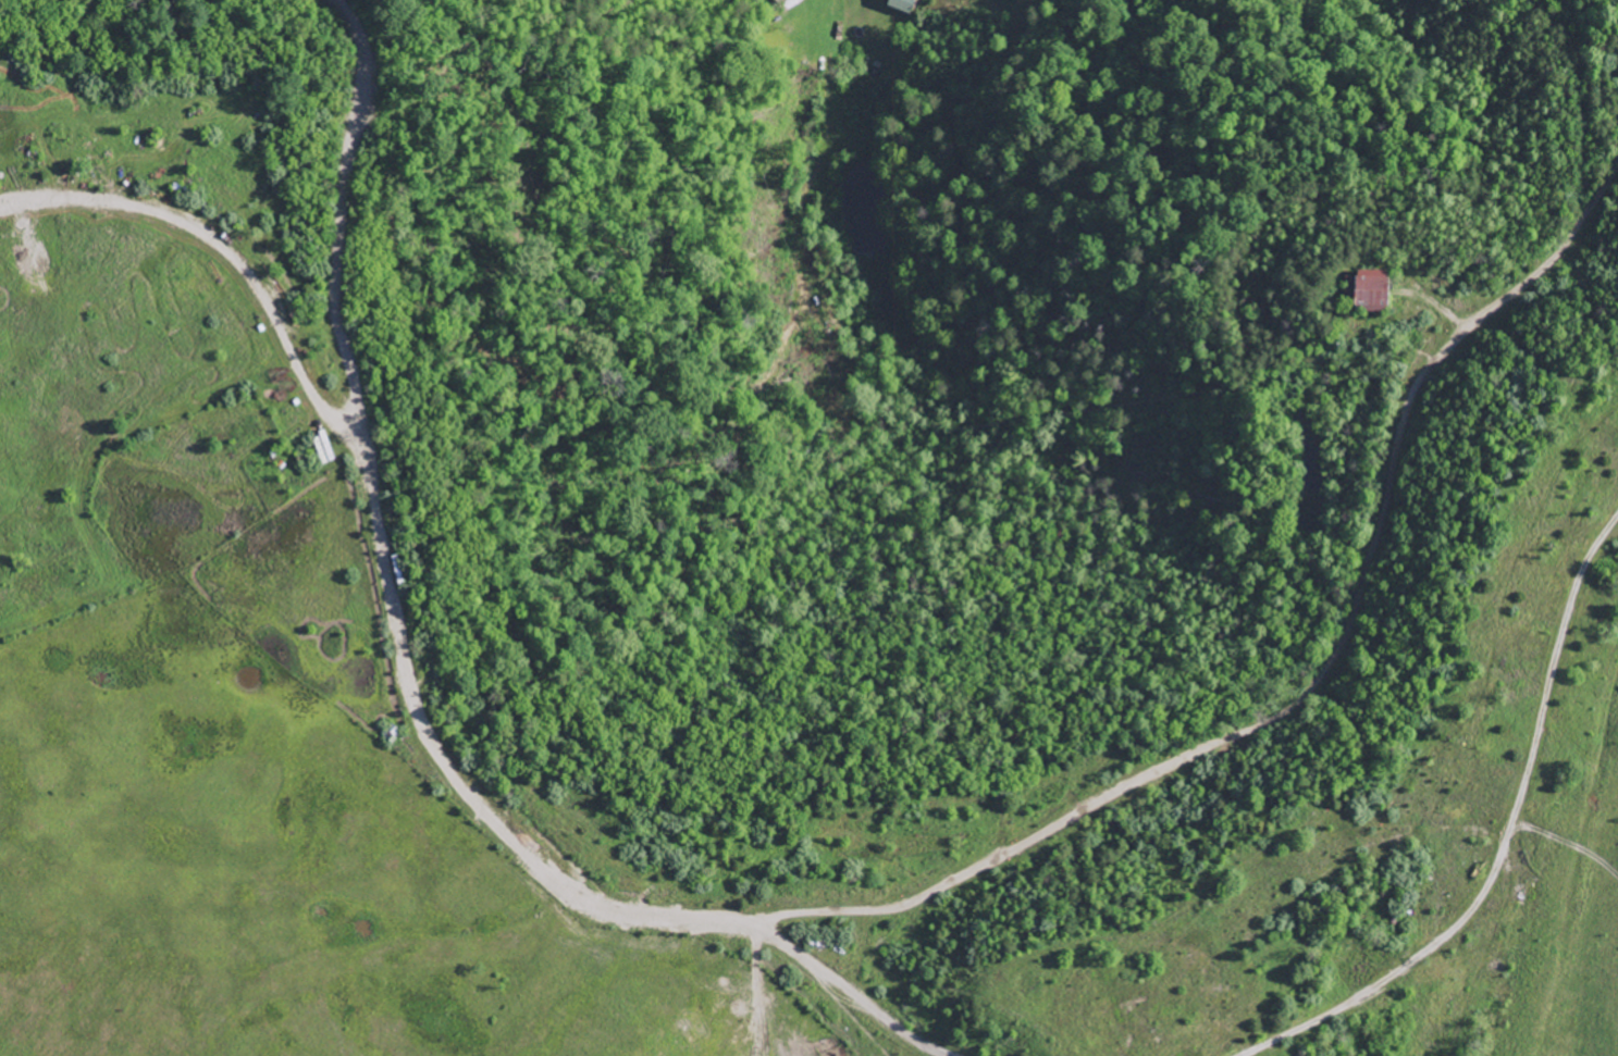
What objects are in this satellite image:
building: (903, 7)
building: (1373, 290)

